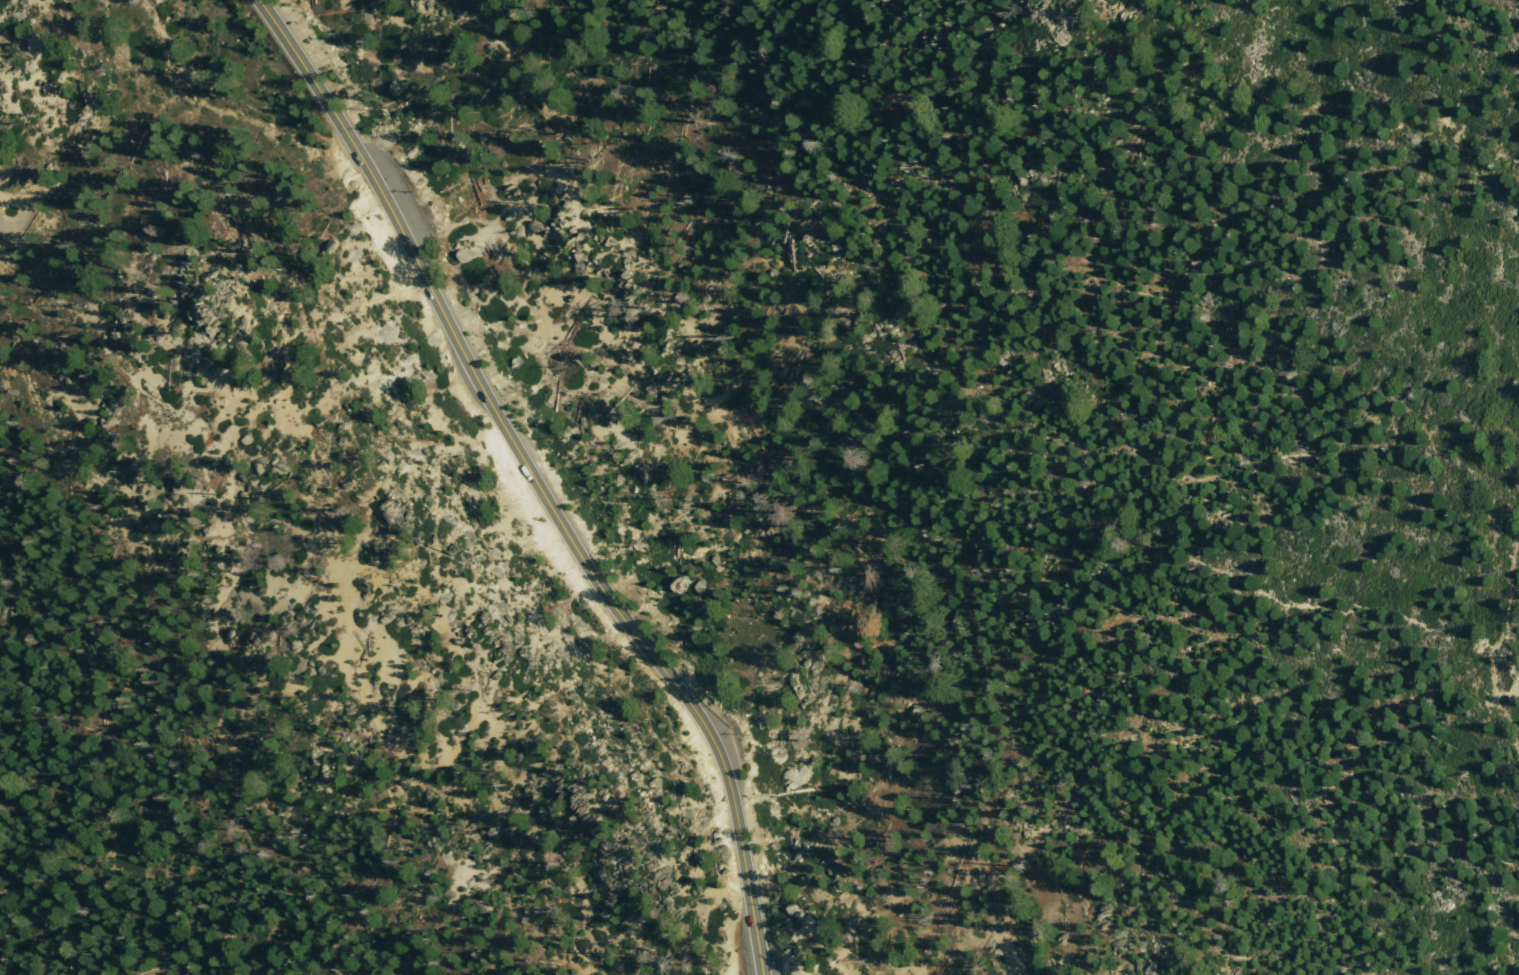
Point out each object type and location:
road: (400, 196)
parking lot: (441, 209)
road: (542, 483)
road: (1504, 621)

